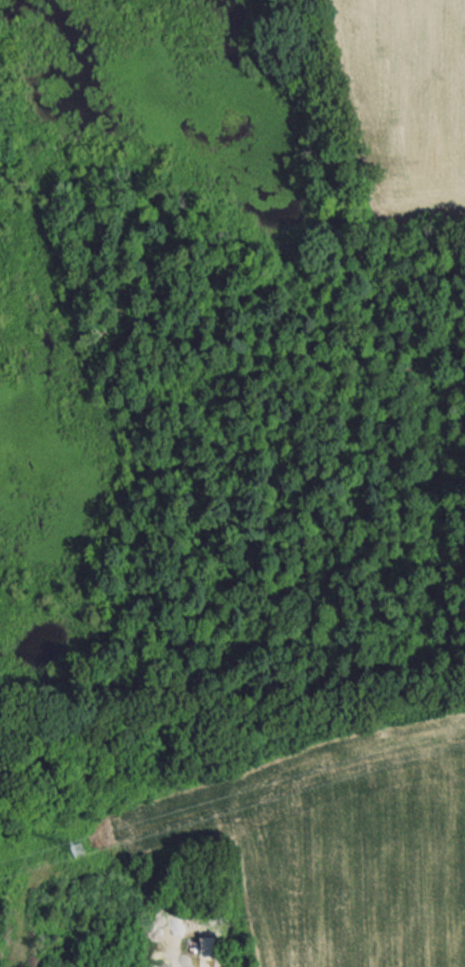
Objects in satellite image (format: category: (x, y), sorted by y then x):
crop: (402, 107)
power tower: (80, 847)
building: (207, 944)

